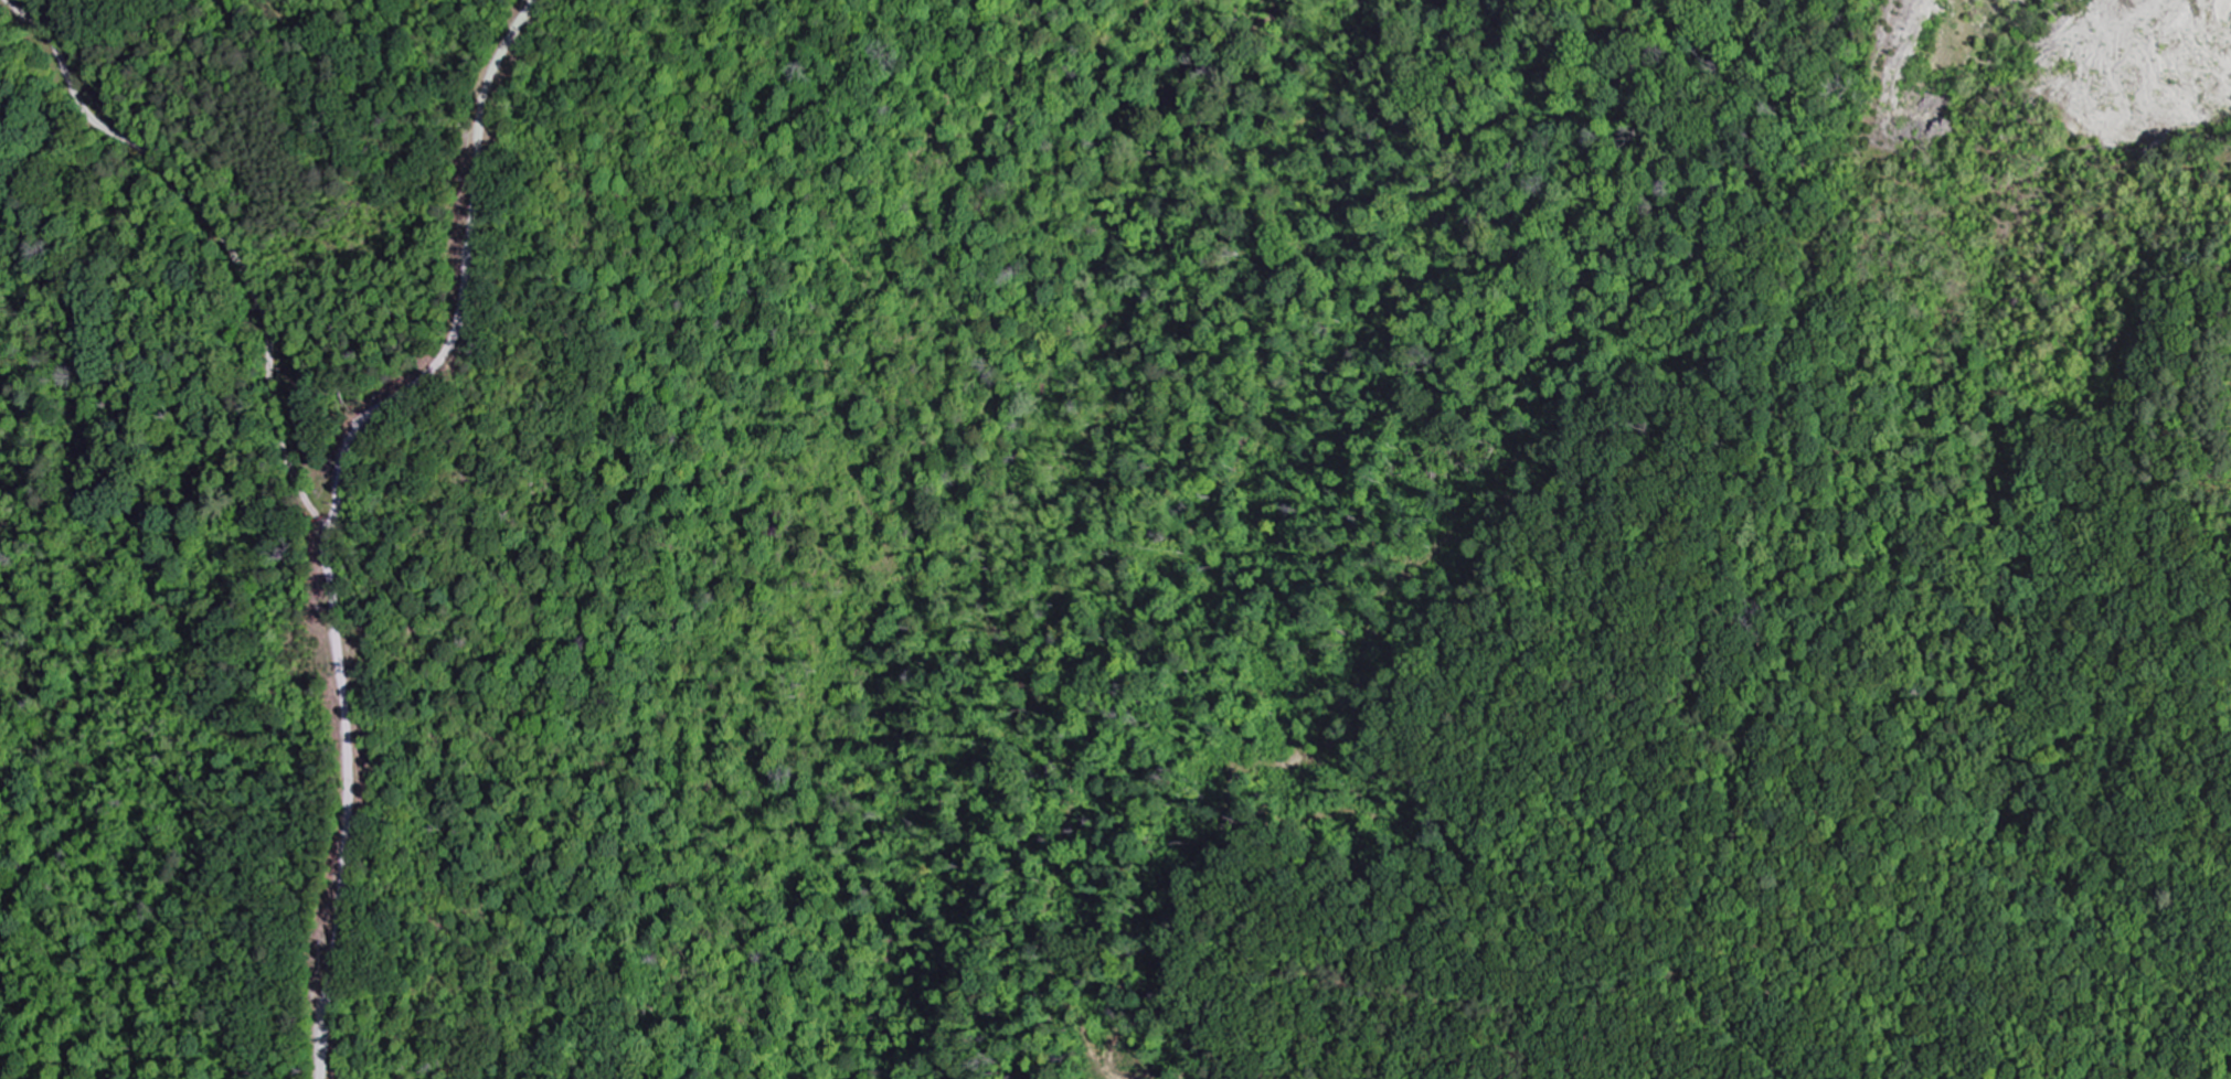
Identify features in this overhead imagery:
road: (216, 233)
road: (329, 509)

